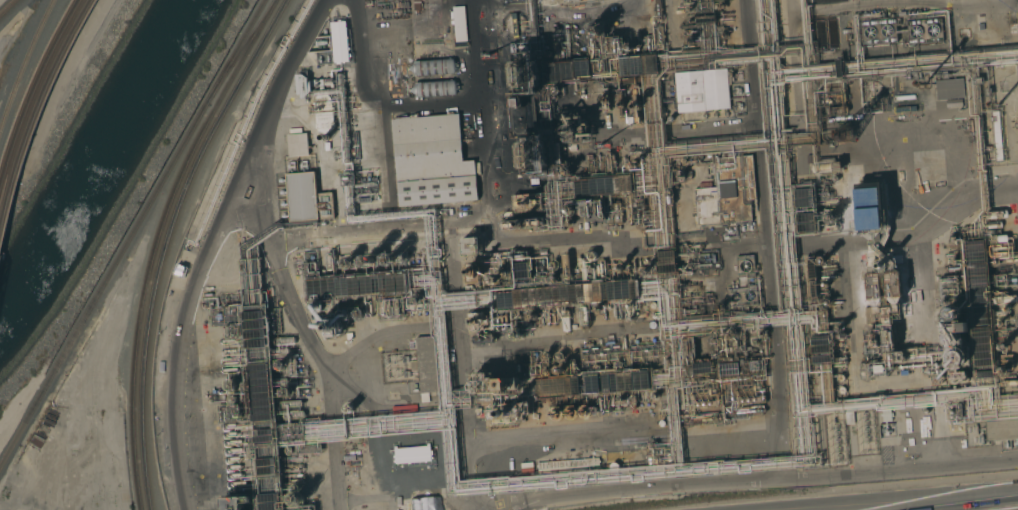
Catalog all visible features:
railway: (7, 7)
building: (658, 10)
building: (680, 11)
building: (705, 18)
building: (459, 26)
building: (924, 31)
building: (596, 32)
building: (878, 32)
building: (848, 35)
building: (660, 36)
building: (339, 42)
building: (629, 44)
building: (611, 46)
railway: (236, 52)
railway: (241, 52)
building: (650, 64)
railway: (25, 65)
building: (630, 65)
building: (838, 68)
building: (568, 72)
building: (524, 73)
railway: (38, 84)
railway: (49, 85)
building: (948, 88)
building: (701, 91)
building: (605, 100)
building: (827, 101)
building: (519, 102)
building: (620, 102)
building: (636, 103)
building: (837, 110)
power plant: (322, 126)
building: (575, 131)
building: (845, 134)
building: (997, 135)
building: (297, 144)
building: (532, 156)
building: (425, 161)
building: (633, 166)
building: (826, 167)
building: (567, 170)
building: (681, 176)
railway: (3, 186)
building: (604, 186)
building: (727, 192)
building: (803, 193)
building: (668, 197)
building: (306, 198)
building: (527, 202)
building: (804, 203)
railway: (7, 207)
building: (570, 209)
building: (869, 209)
building: (604, 211)
building: (996, 214)
building: (805, 217)
building: (830, 217)
building: (521, 224)
building: (585, 225)
building: (994, 225)
building: (806, 227)
building: (998, 238)
building: (953, 240)
railway: (156, 241)
railway: (167, 241)
road: (209, 245)
building: (470, 245)
building: (591, 256)
building: (395, 259)
building: (433, 259)
building: (713, 259)
building: (329, 261)
building: (369, 261)
building: (822, 261)
building: (954, 261)
building: (665, 262)
building: (348, 263)
building: (882, 264)
building: (704, 265)
building: (519, 266)
building: (566, 266)
building: (745, 266)
building: (619, 267)
building: (647, 268)
building: (811, 268)
building: (601, 269)
building: (473, 272)
building: (687, 273)
building: (520, 275)
building: (498, 278)
building: (245, 282)
building: (825, 284)
building: (893, 284)
building: (357, 286)
building: (874, 286)
railway: (102, 287)
building: (813, 288)
building: (948, 288)
building: (567, 294)
building: (1005, 299)
building: (978, 300)
building: (739, 301)
building: (826, 302)
building: (652, 305)
building: (630, 306)
building: (396, 307)
building: (366, 308)
building: (370, 308)
building: (382, 308)
building: (389, 308)
building: (597, 309)
building: (952, 313)
building: (231, 314)
building: (253, 315)
building: (583, 316)
building: (533, 317)
building: (565, 320)
building: (477, 321)
building: (1000, 323)
building: (255, 325)
building: (333, 326)
building: (232, 330)
building: (955, 332)
building: (735, 333)
building: (763, 333)
building: (255, 334)
building: (516, 334)
building: (349, 336)
building: (490, 338)
building: (888, 338)
building: (477, 339)
building: (712, 340)
building: (820, 340)
building: (227, 341)
building: (283, 341)
building: (754, 342)
building: (256, 343)
building: (728, 344)
building: (1001, 347)
building: (689, 349)
building: (820, 349)
building: (228, 351)
building: (714, 354)
building: (545, 355)
building: (559, 356)
building: (955, 358)
building: (821, 359)
building: (230, 362)
building: (280, 364)
building: (428, 366)
building: (258, 367)
building: (879, 368)
building: (230, 369)
building: (729, 369)
building: (560, 370)
building: (546, 371)
building: (1003, 371)
building: (958, 375)
building: (937, 377)
building: (259, 378)
building: (840, 378)
building: (641, 380)
building: (622, 381)
building: (605, 383)
building: (1009, 383)
building: (233, 384)
building: (506, 384)
building: (557, 387)
building: (841, 390)
building: (261, 392)
building: (286, 392)
building: (654, 397)
building: (752, 400)
building: (621, 401)
building: (612, 402)
building: (633, 402)
building: (292, 404)
building: (708, 404)
building: (601, 405)
building: (262, 406)
building: (348, 408)
building: (235, 411)
building: (594, 411)
building: (506, 412)
building: (563, 412)
building: (584, 412)
building: (294, 415)
building: (886, 415)
building: (263, 417)
building: (712, 419)
building: (662, 423)
building: (228, 425)
building: (1001, 430)
building: (266, 432)
building: (229, 434)
building: (264, 438)
building: (232, 441)
building: (233, 449)
building: (308, 449)
building: (232, 458)
building: (659, 460)
building: (267, 462)
building: (232, 466)
building: (567, 467)
building: (613, 467)
building: (268, 470)
building: (232, 475)
building: (236, 483)
building: (269, 497)
road: (919, 501)
building: (237, 502)
building: (302, 502)
building: (270, 506)

